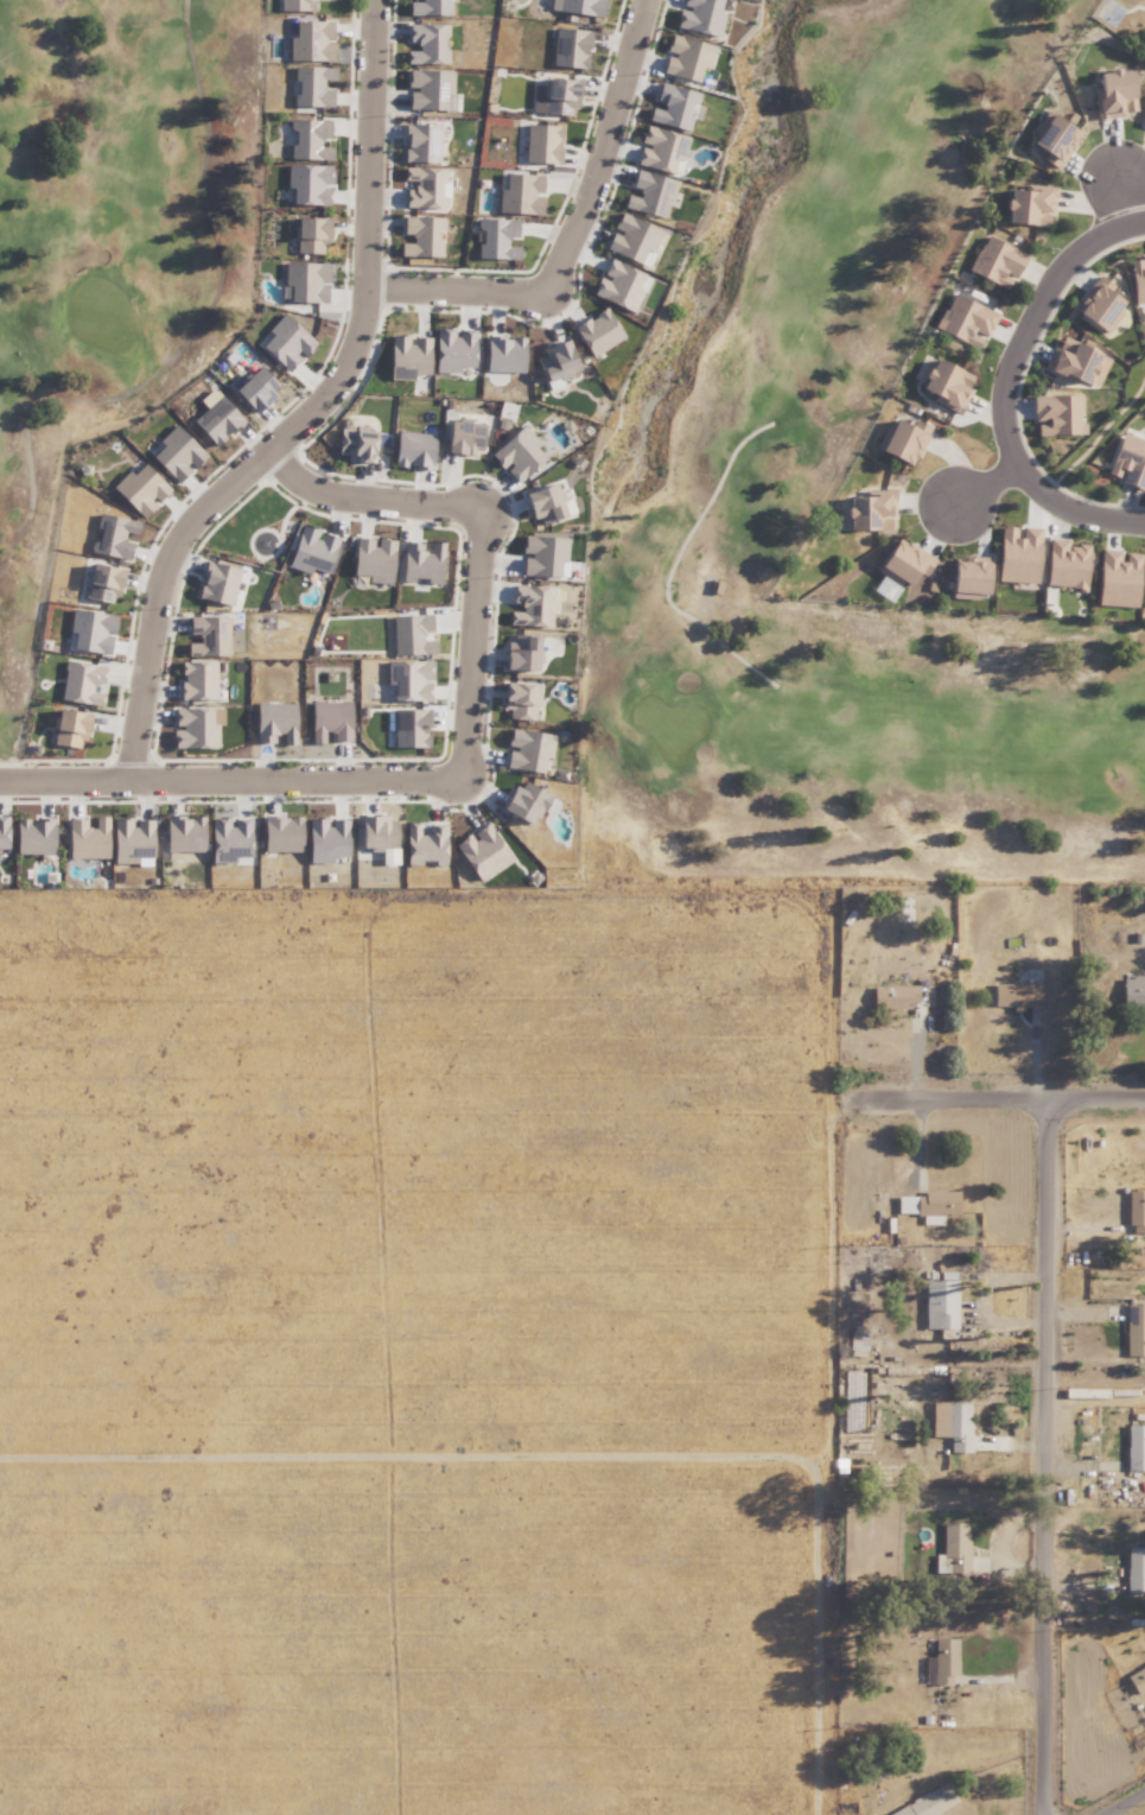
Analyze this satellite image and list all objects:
building: (294, 4)
building: (427, 6)
building: (580, 6)
building: (700, 15)
building: (308, 39)
building: (425, 42)
building: (568, 46)
building: (685, 56)
building: (310, 84)
building: (428, 88)
building: (1111, 93)
building: (556, 94)
building: (670, 104)
building: (1143, 115)
building: (520, 132)
building: (1051, 137)
building: (308, 138)
building: (419, 140)
building: (541, 141)
building: (660, 150)
building: (305, 183)
park: (103, 184)
building: (421, 186)
building: (519, 192)
building: (647, 192)
building: (1029, 203)
road: (572, 233)
building: (307, 234)
building: (419, 235)
building: (496, 236)
building: (630, 237)
building: (994, 261)
building: (1137, 278)
building: (304, 281)
building: (617, 284)
building: (1099, 303)
building: (963, 319)
building: (596, 331)
road: (189, 334)
building: (284, 341)
building: (452, 349)
building: (503, 351)
building: (406, 354)
building: (554, 360)
building: (1074, 361)
building: (943, 385)
road: (1007, 387)
building: (254, 388)
road: (308, 411)
building: (1056, 413)
building: (215, 419)
building: (462, 436)
building: (899, 438)
park: (748, 439)
building: (354, 443)
building: (411, 449)
building: (173, 451)
building: (516, 453)
building: (1127, 459)
road: (973, 483)
building: (138, 487)
building: (540, 503)
building: (869, 509)
building: (112, 537)
building: (310, 551)
building: (542, 554)
building: (1016, 554)
building: (370, 557)
building: (420, 560)
building: (902, 561)
road: (674, 563)
building: (1064, 564)
building: (967, 573)
building: (1117, 577)
building: (216, 582)
building: (101, 583)
building: (714, 585)
building: (1144, 592)
building: (529, 604)
building: (90, 632)
building: (409, 633)
building: (205, 634)
building: (519, 652)
building: (195, 679)
building: (406, 679)
building: (79, 681)
building: (516, 698)
building: (273, 721)
building: (329, 721)
building: (408, 725)
building: (192, 726)
building: (68, 728)
building: (526, 749)
road: (465, 759)
building: (523, 802)
building: (375, 831)
building: (2, 832)
building: (280, 833)
building: (33, 834)
building: (183, 834)
building: (85, 837)
building: (227, 838)
building: (325, 838)
building: (129, 839)
building: (424, 843)
building: (481, 850)
road: (993, 868)
building: (1132, 992)
building: (1013, 994)
building: (892, 995)
road: (991, 1097)
building: (928, 1205)
building: (1136, 1211)
building: (939, 1303)
building: (1134, 1329)
crop: (405, 1351)
building: (950, 1423)
building: (1134, 1447)
road: (1050, 1455)
road: (837, 1460)
road: (418, 1465)
building: (952, 1549)
building: (1134, 1569)
building: (940, 1661)
building: (1136, 1677)
road: (1128, 1804)

